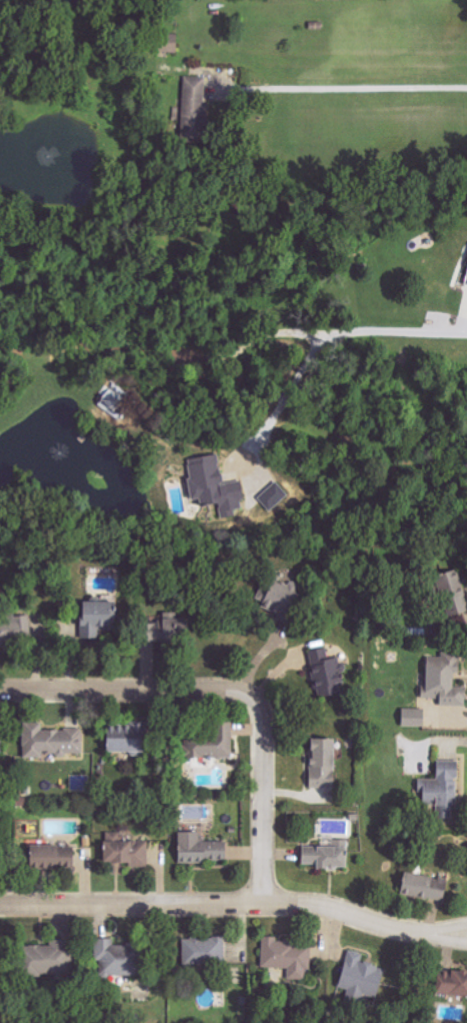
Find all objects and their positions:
building: (164, 42)
road: (346, 87)
building: (193, 104)
building: (465, 280)
road: (328, 340)
building: (115, 401)
building: (213, 486)
building: (273, 495)
building: (451, 592)
building: (277, 594)
building: (95, 618)
building: (14, 626)
building: (160, 630)
building: (325, 673)
building: (443, 681)
road: (232, 689)
building: (412, 717)
road: (461, 718)
building: (121, 739)
road: (456, 740)
building: (51, 741)
building: (210, 744)
building: (320, 763)
building: (441, 790)
building: (198, 849)
building: (45, 853)
building: (125, 853)
building: (325, 855)
building: (422, 886)
road: (235, 903)
building: (202, 950)
building: (286, 957)
building: (113, 959)
building: (359, 978)
building: (450, 984)

